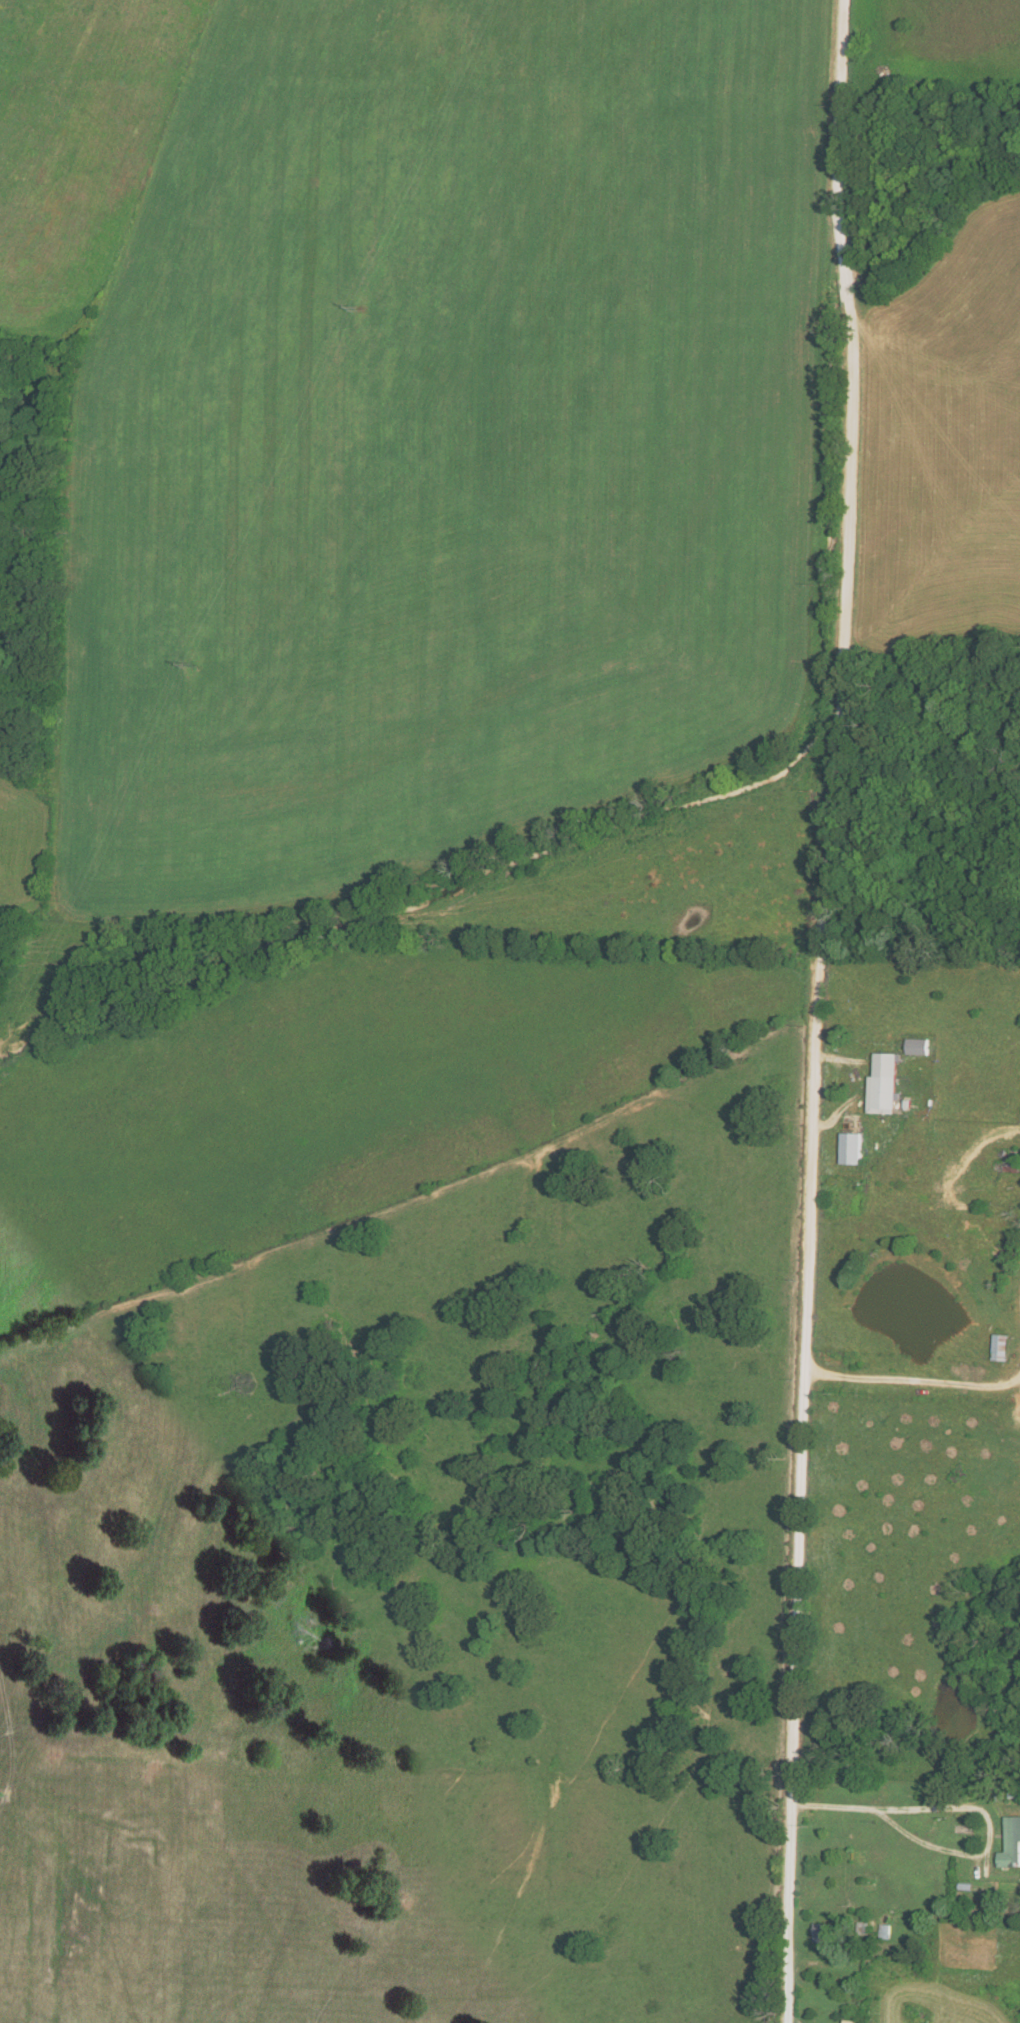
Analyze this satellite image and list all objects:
building: (0, 750)
road: (815, 1010)
building: (918, 1045)
building: (884, 1082)
building: (851, 1147)
building: (1001, 1346)
road: (912, 1375)
road: (5, 1728)
road: (926, 1798)
building: (1012, 1842)
building: (825, 1932)

